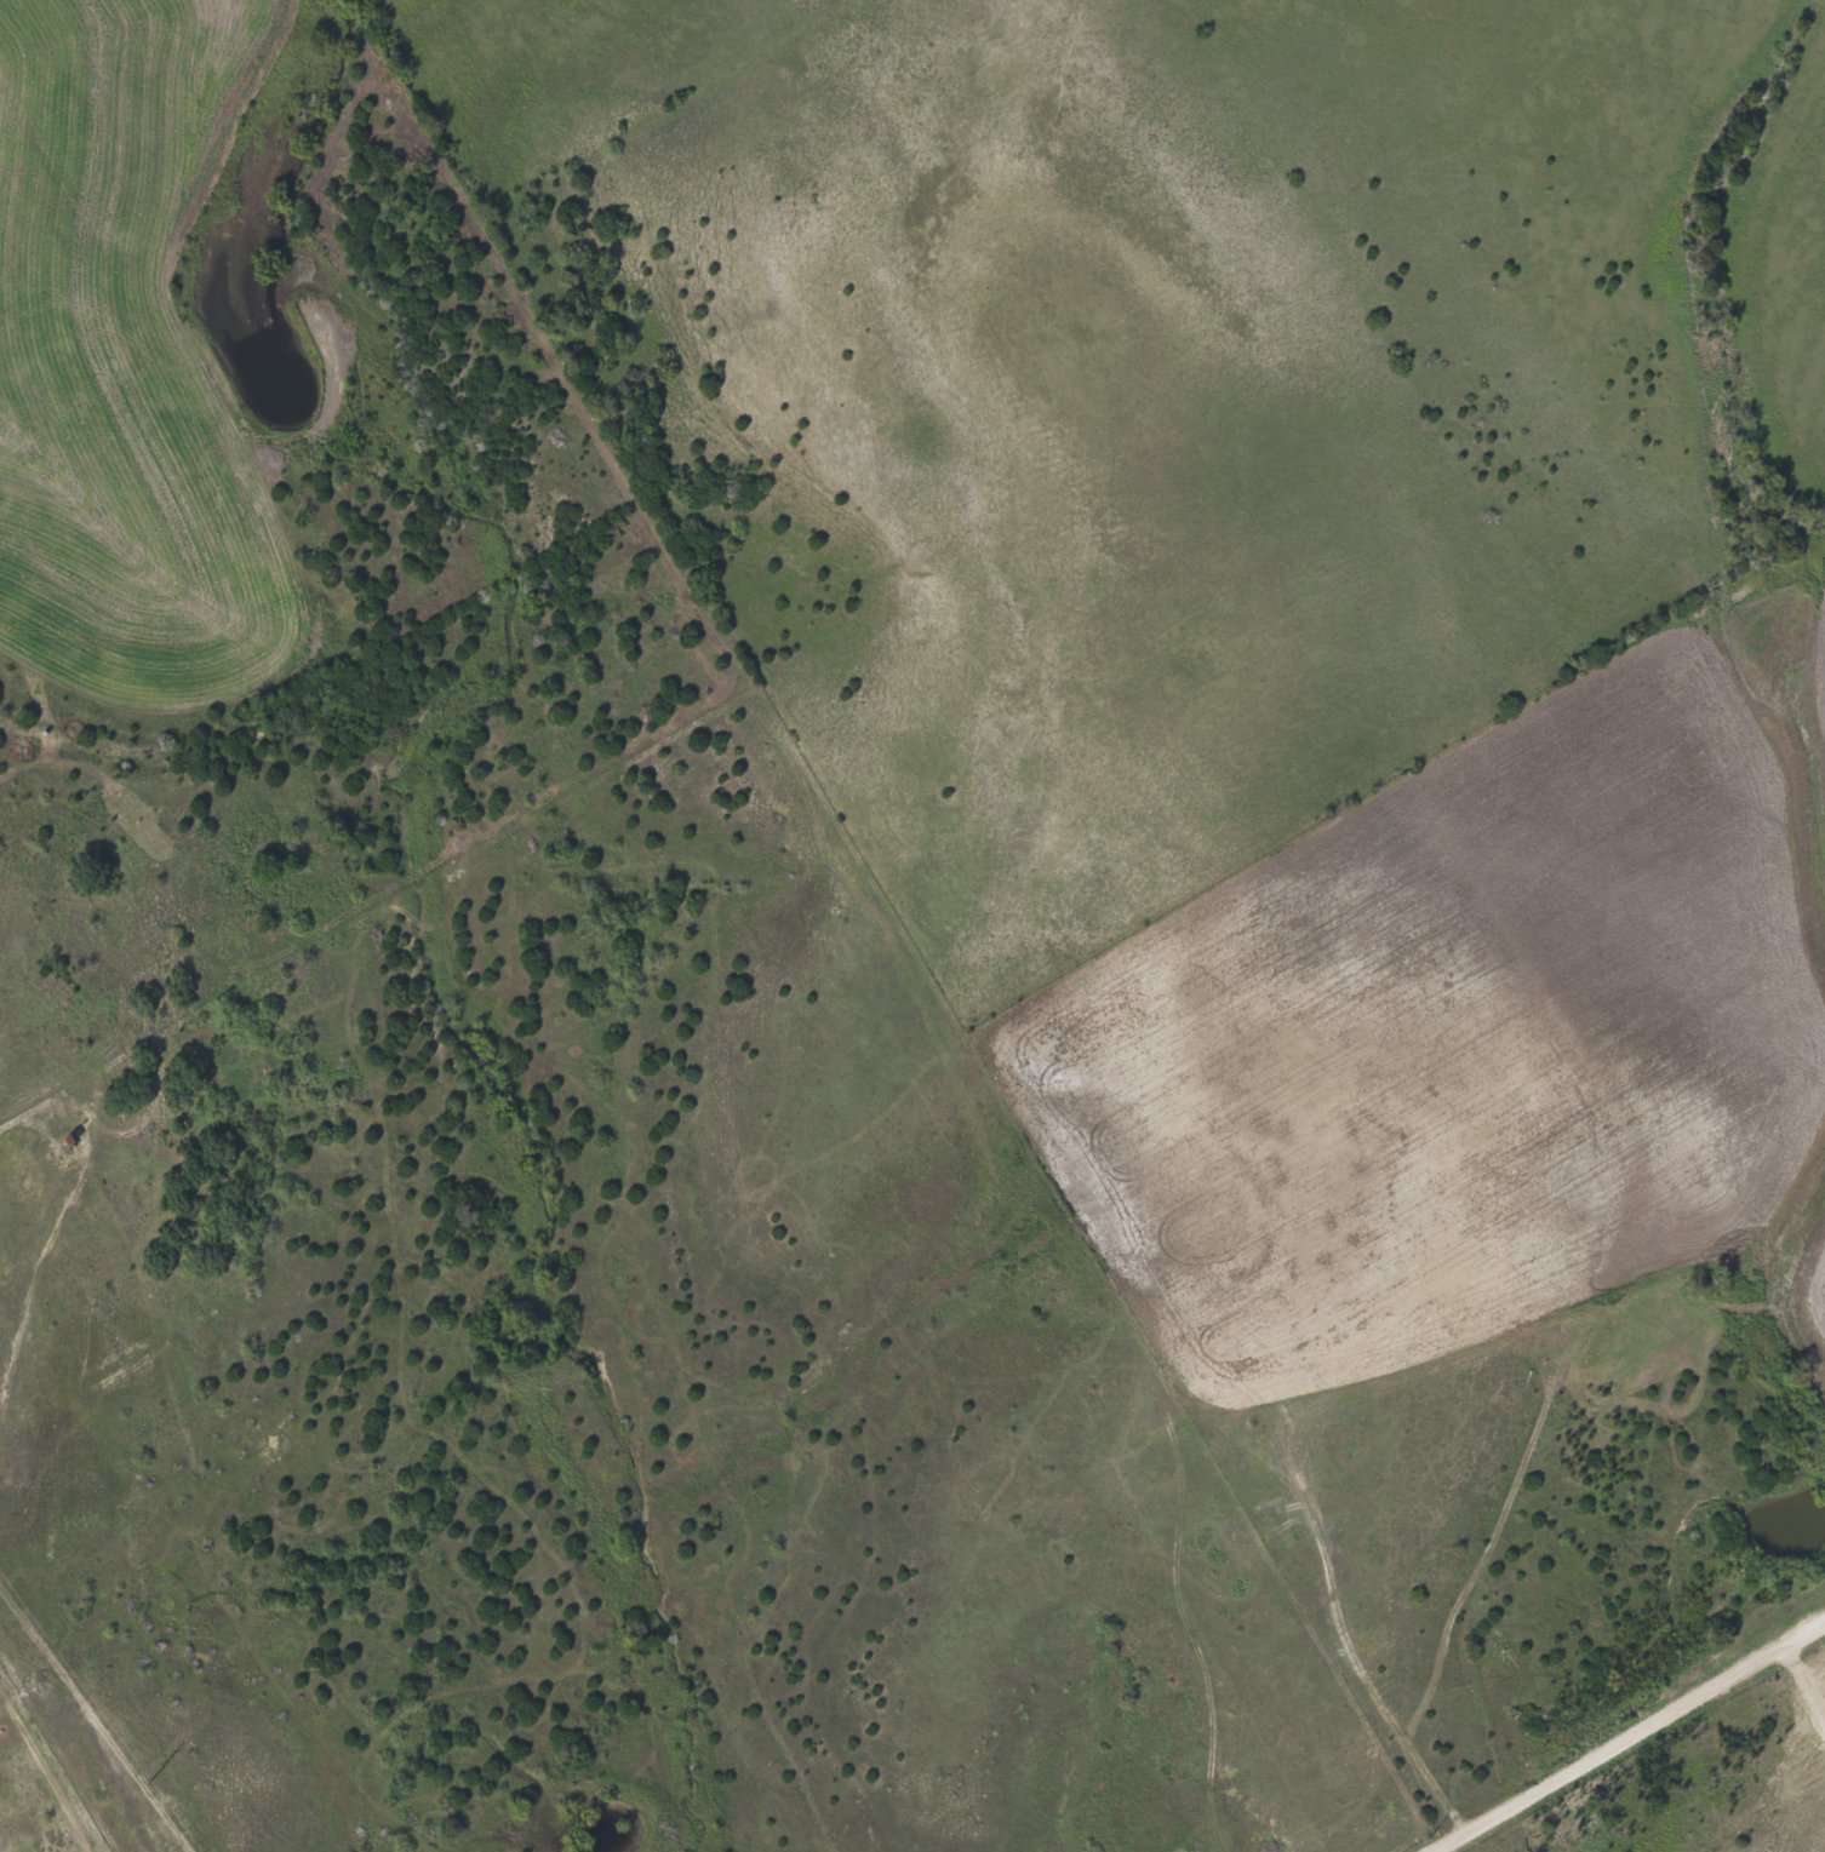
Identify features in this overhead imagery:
road: (1787, 1708)
road: (1634, 1741)

